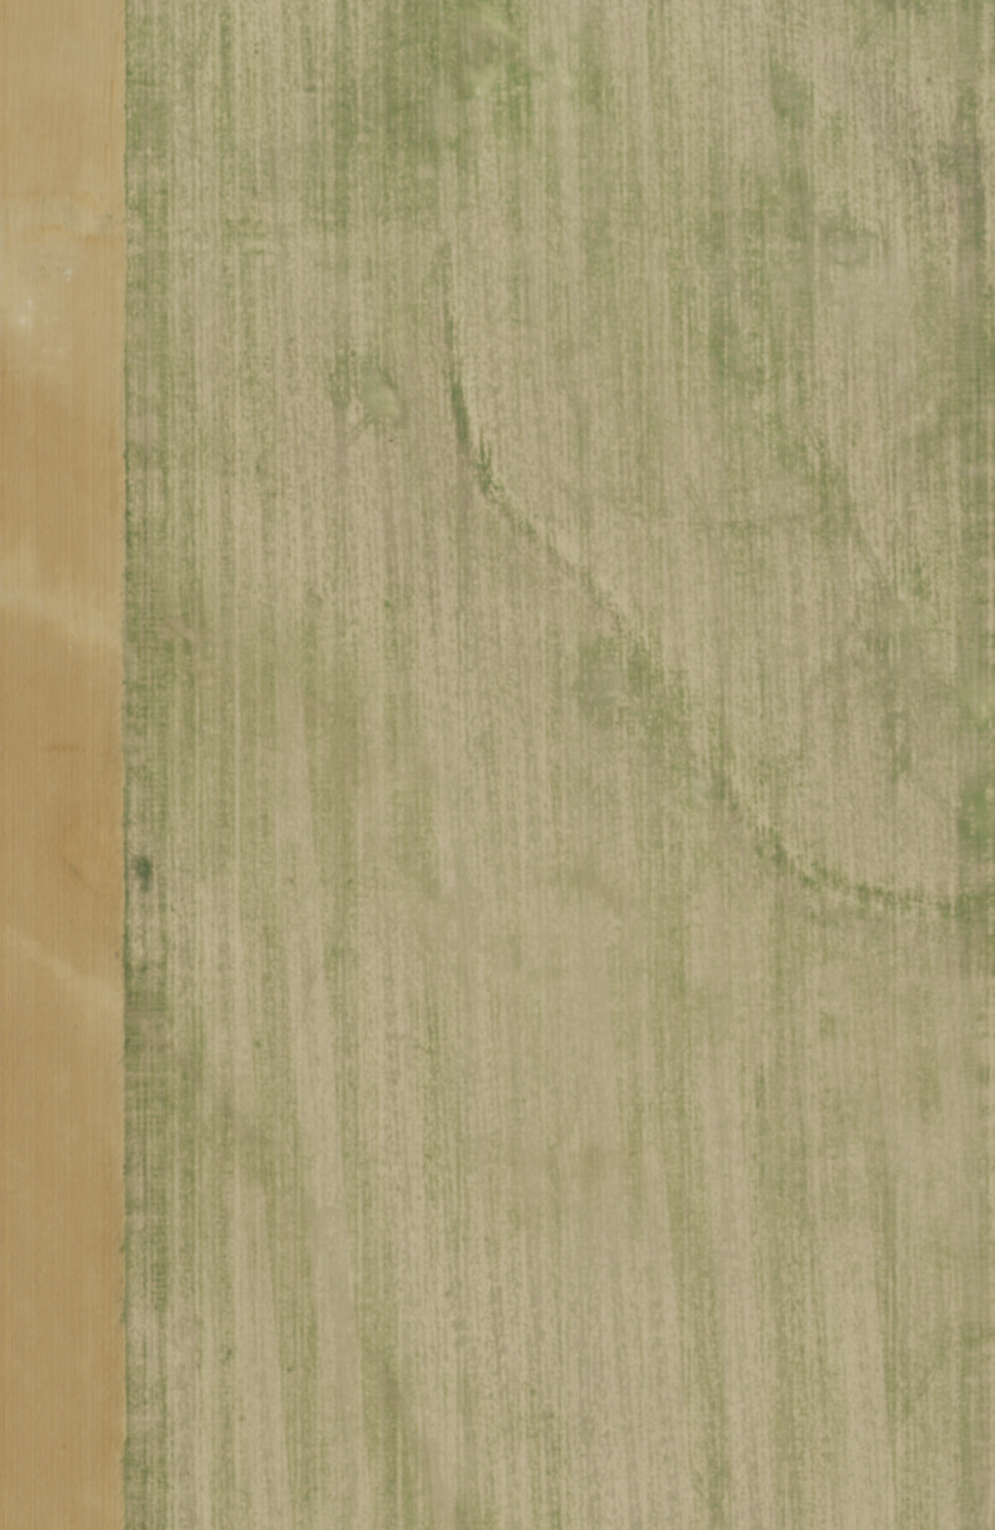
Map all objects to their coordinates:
crop: (497, 765)

